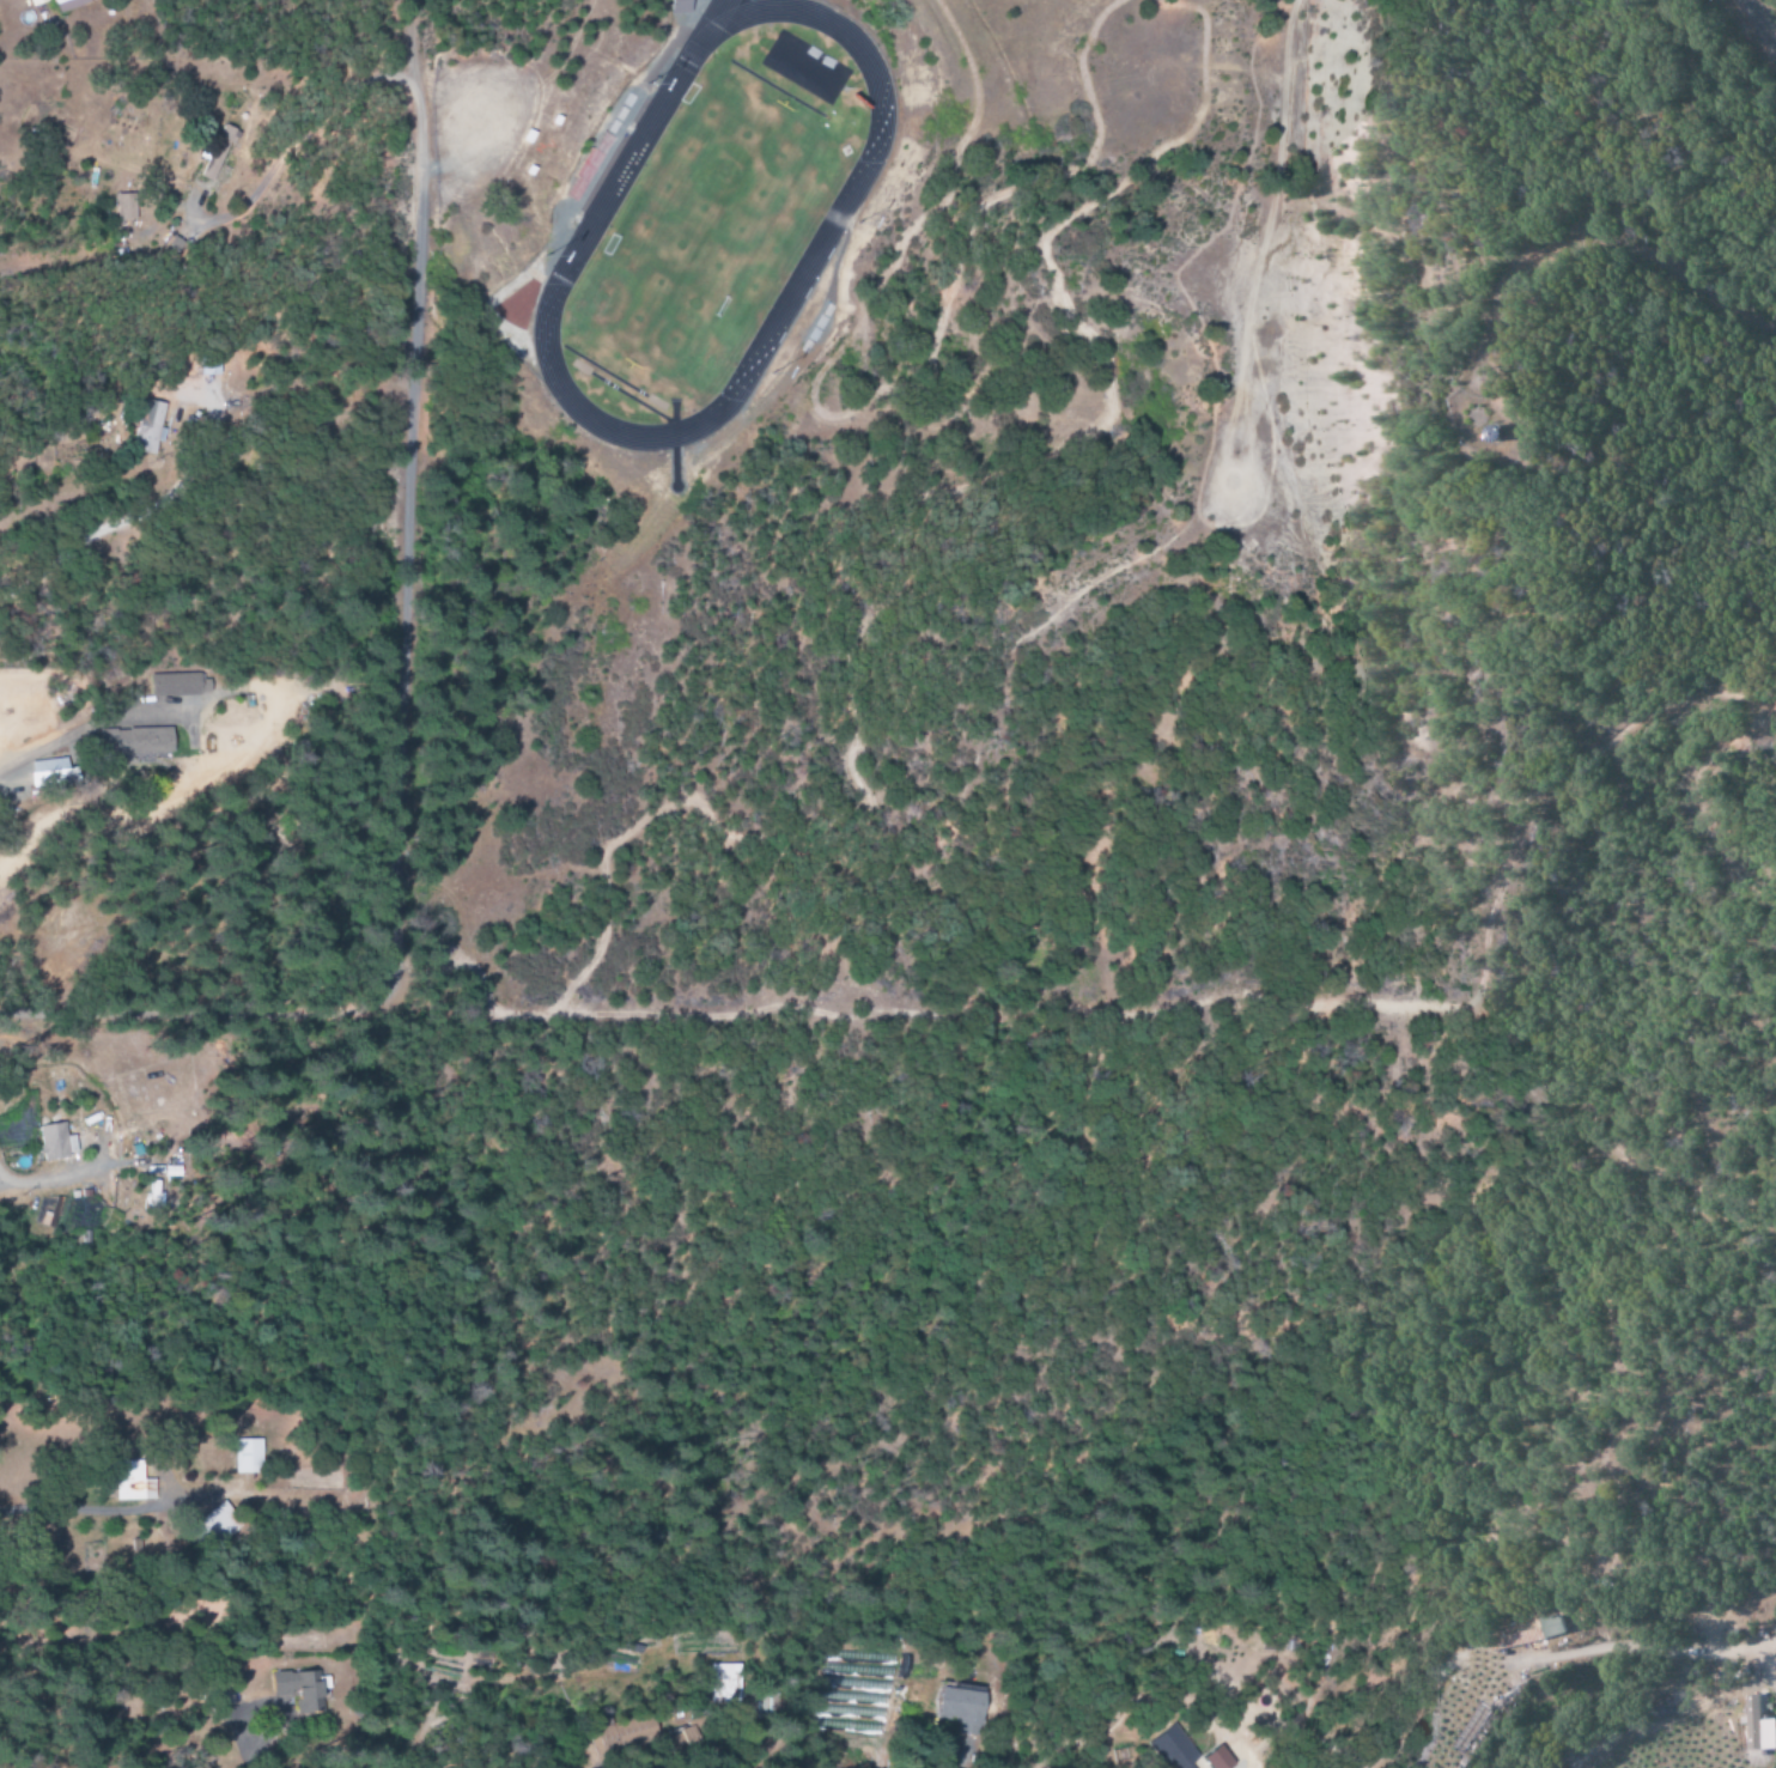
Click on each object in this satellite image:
building: (681, 1)
building: (68, 5)
road: (1763, 22)
building: (819, 83)
building: (217, 156)
track: (839, 200)
building: (124, 207)
park: (703, 235)
building: (218, 371)
building: (158, 429)
road: (138, 512)
road: (400, 591)
building: (177, 685)
road: (57, 743)
building: (51, 772)
building: (56, 1141)
building: (154, 1197)
building: (245, 1456)
building: (130, 1482)
building: (217, 1524)
building: (1519, 1633)
building: (720, 1683)
building: (299, 1690)
building: (956, 1705)
building: (1754, 1726)
building: (1172, 1749)

